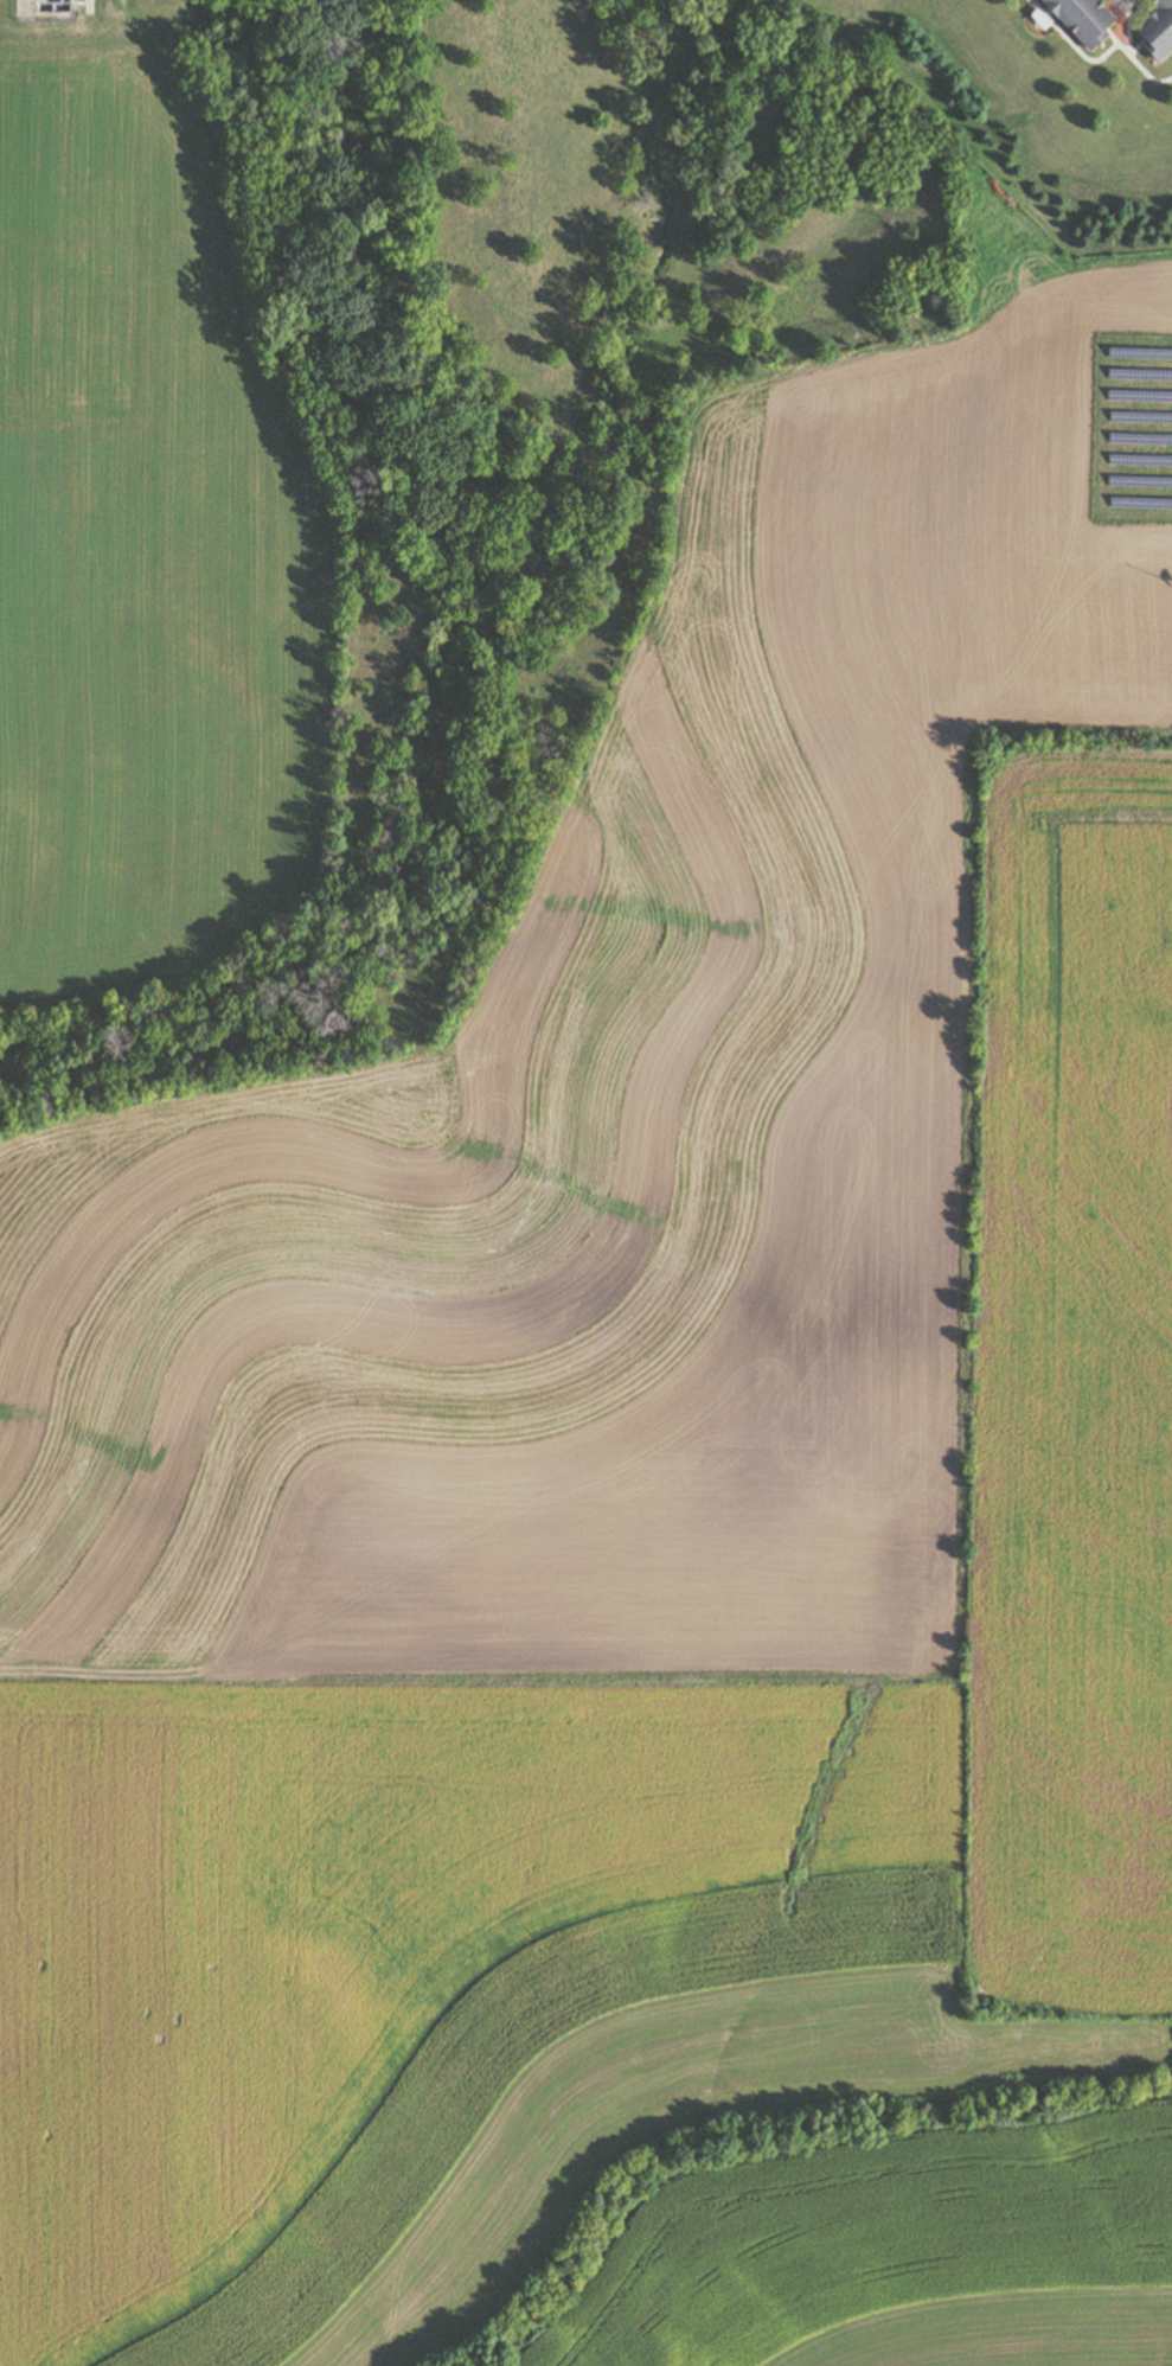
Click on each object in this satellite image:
building: (1076, 19)
building: (1153, 30)

